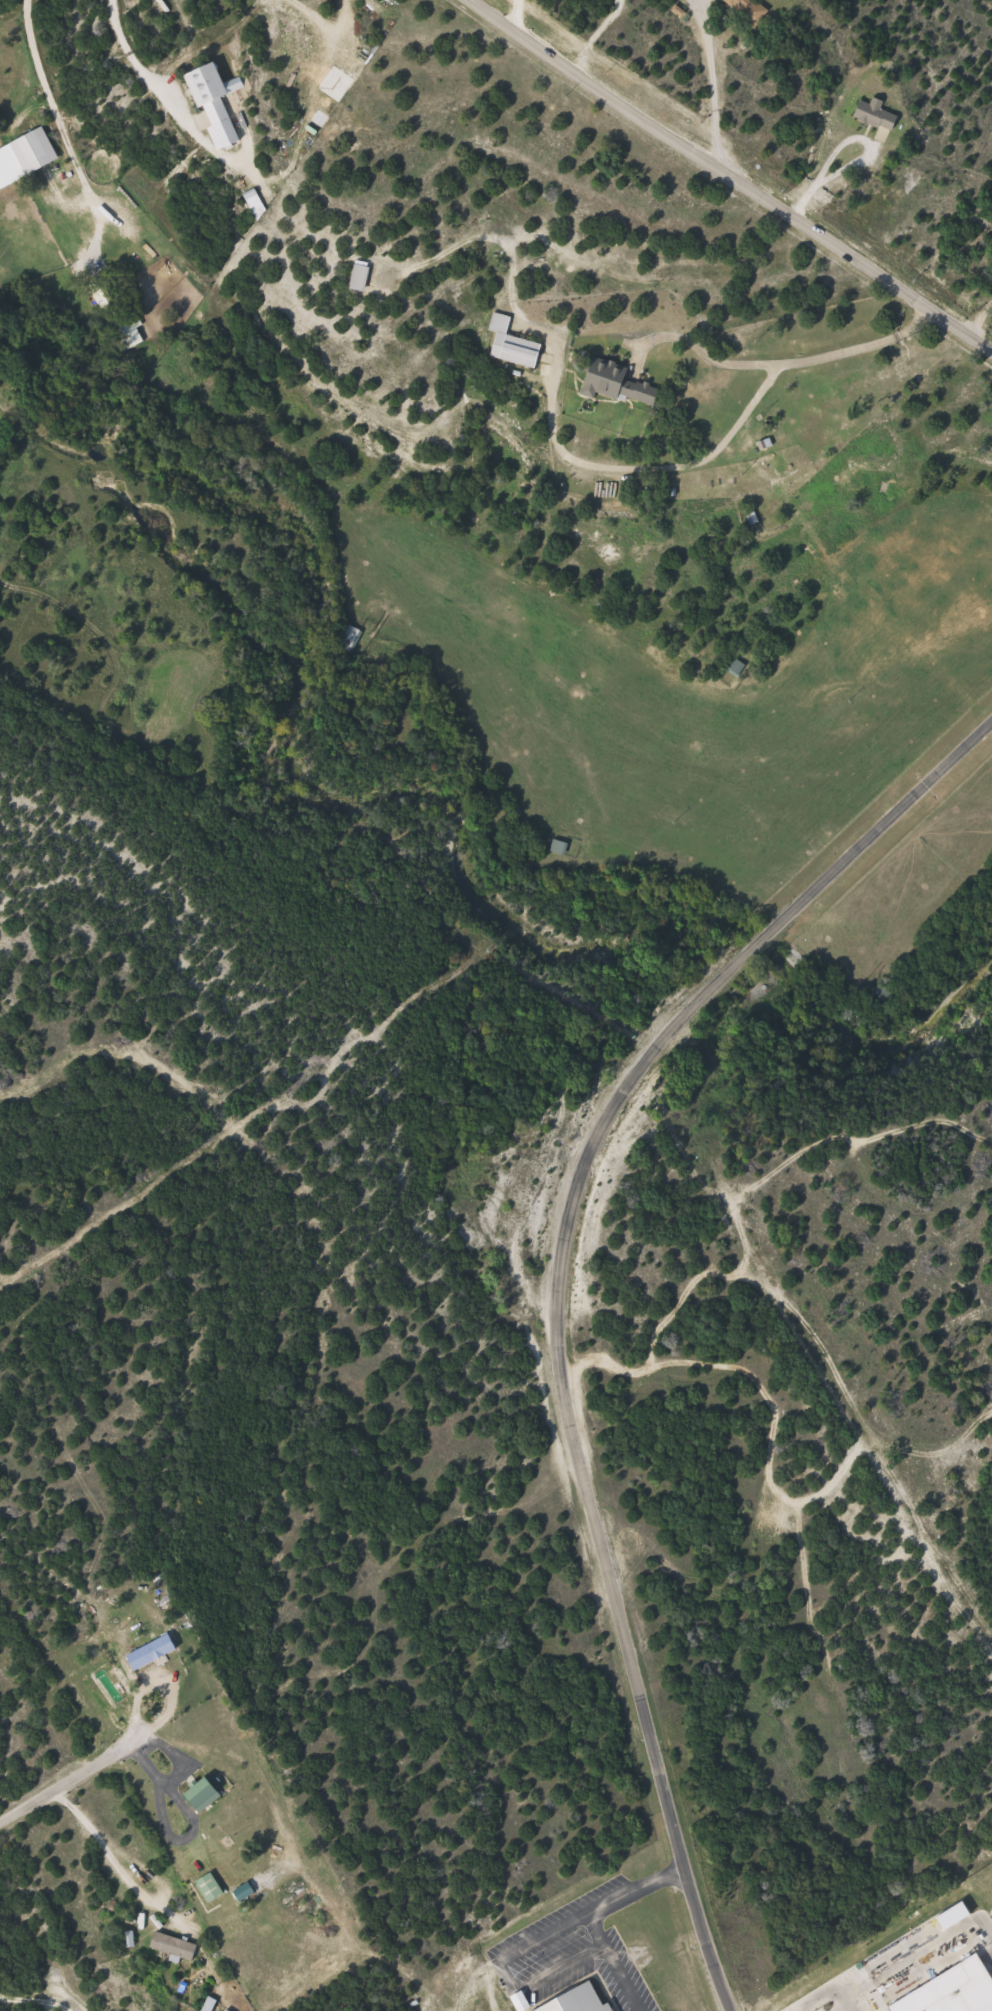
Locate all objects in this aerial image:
building: (750, 11)
road: (593, 34)
road: (124, 54)
road: (711, 81)
road: (48, 103)
building: (218, 106)
building: (881, 116)
building: (38, 152)
road: (863, 155)
road: (728, 174)
road: (541, 222)
building: (363, 276)
building: (119, 313)
building: (515, 344)
road: (798, 362)
building: (624, 384)
building: (754, 517)
building: (351, 640)
building: (739, 668)
road: (885, 819)
building: (562, 847)
road: (730, 968)
road: (587, 1504)
building: (155, 1653)
road: (75, 1783)
building: (207, 1793)
road: (115, 1865)
building: (213, 1888)
building: (175, 1946)
building: (951, 1991)
building: (581, 2001)
road: (30, 2006)

